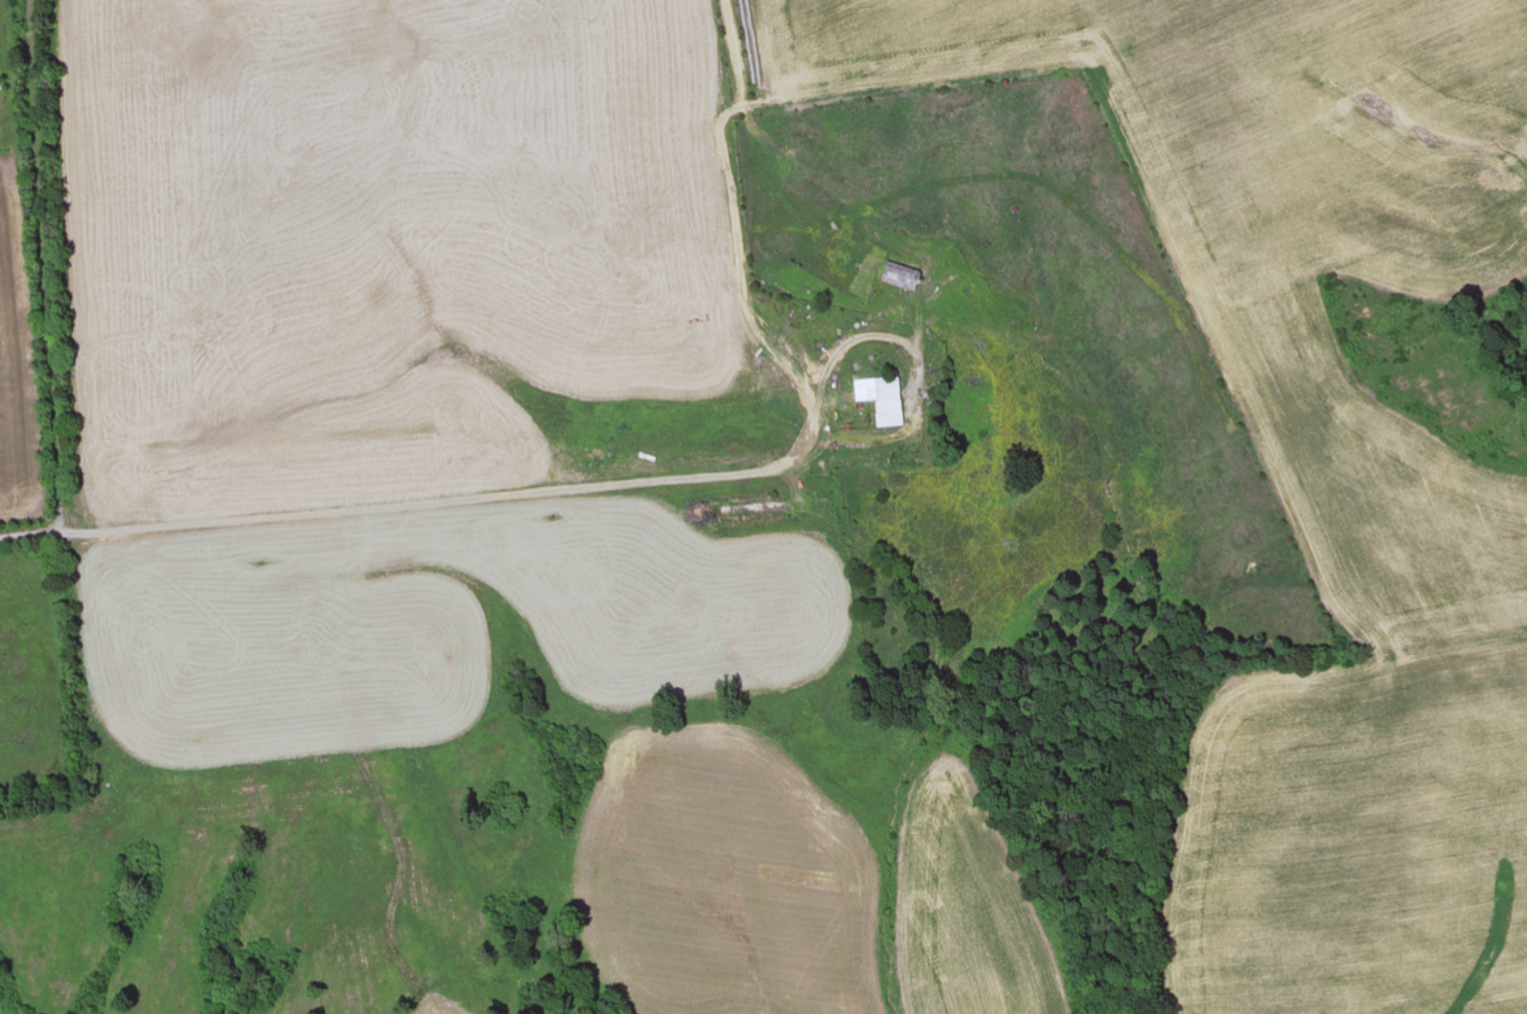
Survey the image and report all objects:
road: (44, 263)
building: (885, 403)
road: (404, 490)

